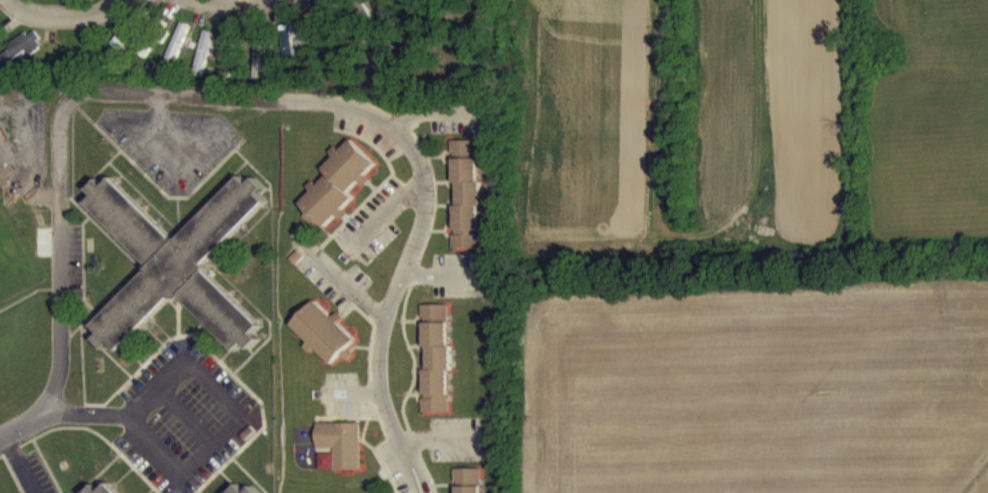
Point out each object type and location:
building: (239, 0)
road: (231, 3)
road: (60, 13)
building: (289, 46)
building: (123, 49)
building: (22, 57)
building: (175, 57)
building: (204, 63)
building: (259, 69)
road: (265, 101)
road: (156, 129)
building: (337, 194)
road: (388, 206)
building: (467, 207)
building: (177, 273)
road: (353, 291)
building: (323, 342)
building: (435, 368)
road: (17, 428)
road: (205, 447)
building: (337, 456)
road: (21, 463)
building: (467, 485)

